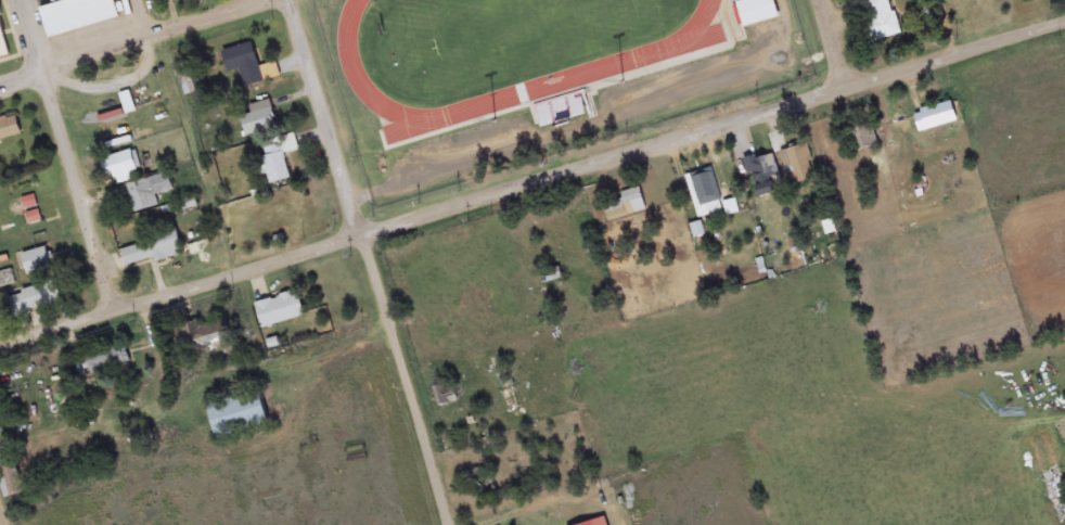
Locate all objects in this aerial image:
building: (757, 13)
building: (77, 16)
building: (882, 20)
road: (837, 41)
road: (132, 42)
building: (3, 47)
building: (244, 65)
building: (190, 84)
building: (127, 104)
building: (935, 118)
road: (332, 120)
building: (259, 121)
building: (9, 129)
building: (864, 141)
road: (69, 156)
building: (278, 158)
building: (797, 164)
building: (123, 168)
building: (764, 172)
road: (532, 188)
building: (705, 190)
building: (147, 194)
building: (626, 207)
building: (152, 252)
building: (38, 259)
building: (36, 300)
building: (280, 311)
building: (208, 337)
building: (108, 361)
road: (191, 381)
road: (410, 383)
building: (238, 417)
building: (9, 470)
road: (4, 508)

